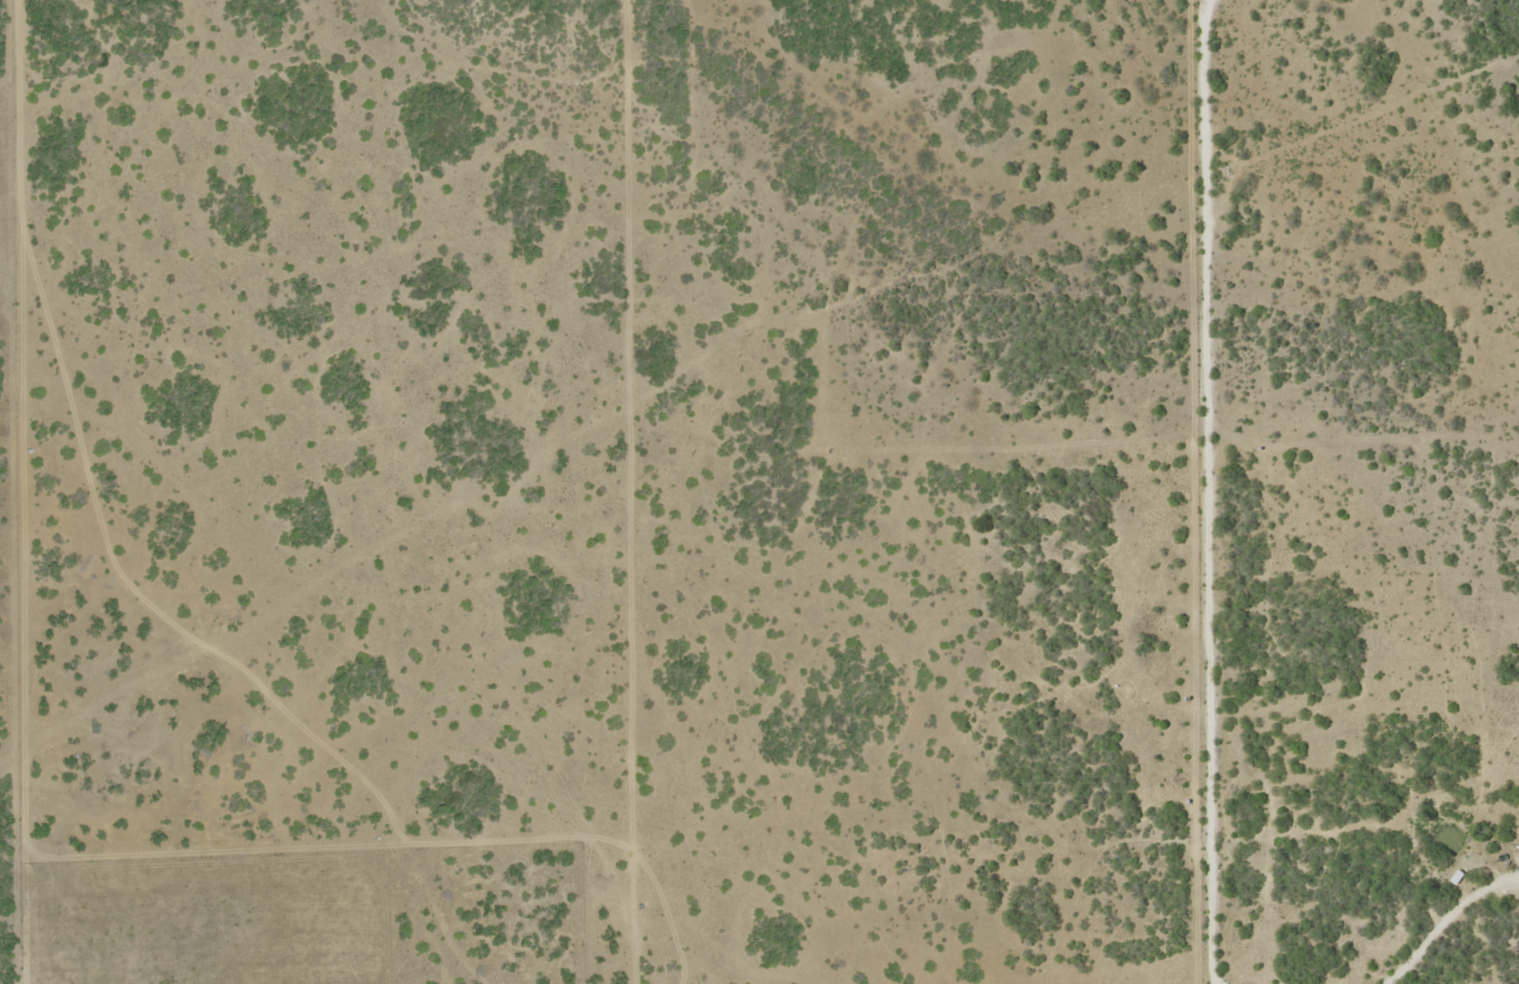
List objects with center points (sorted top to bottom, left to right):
road: (597, 492)
road: (720, 609)

